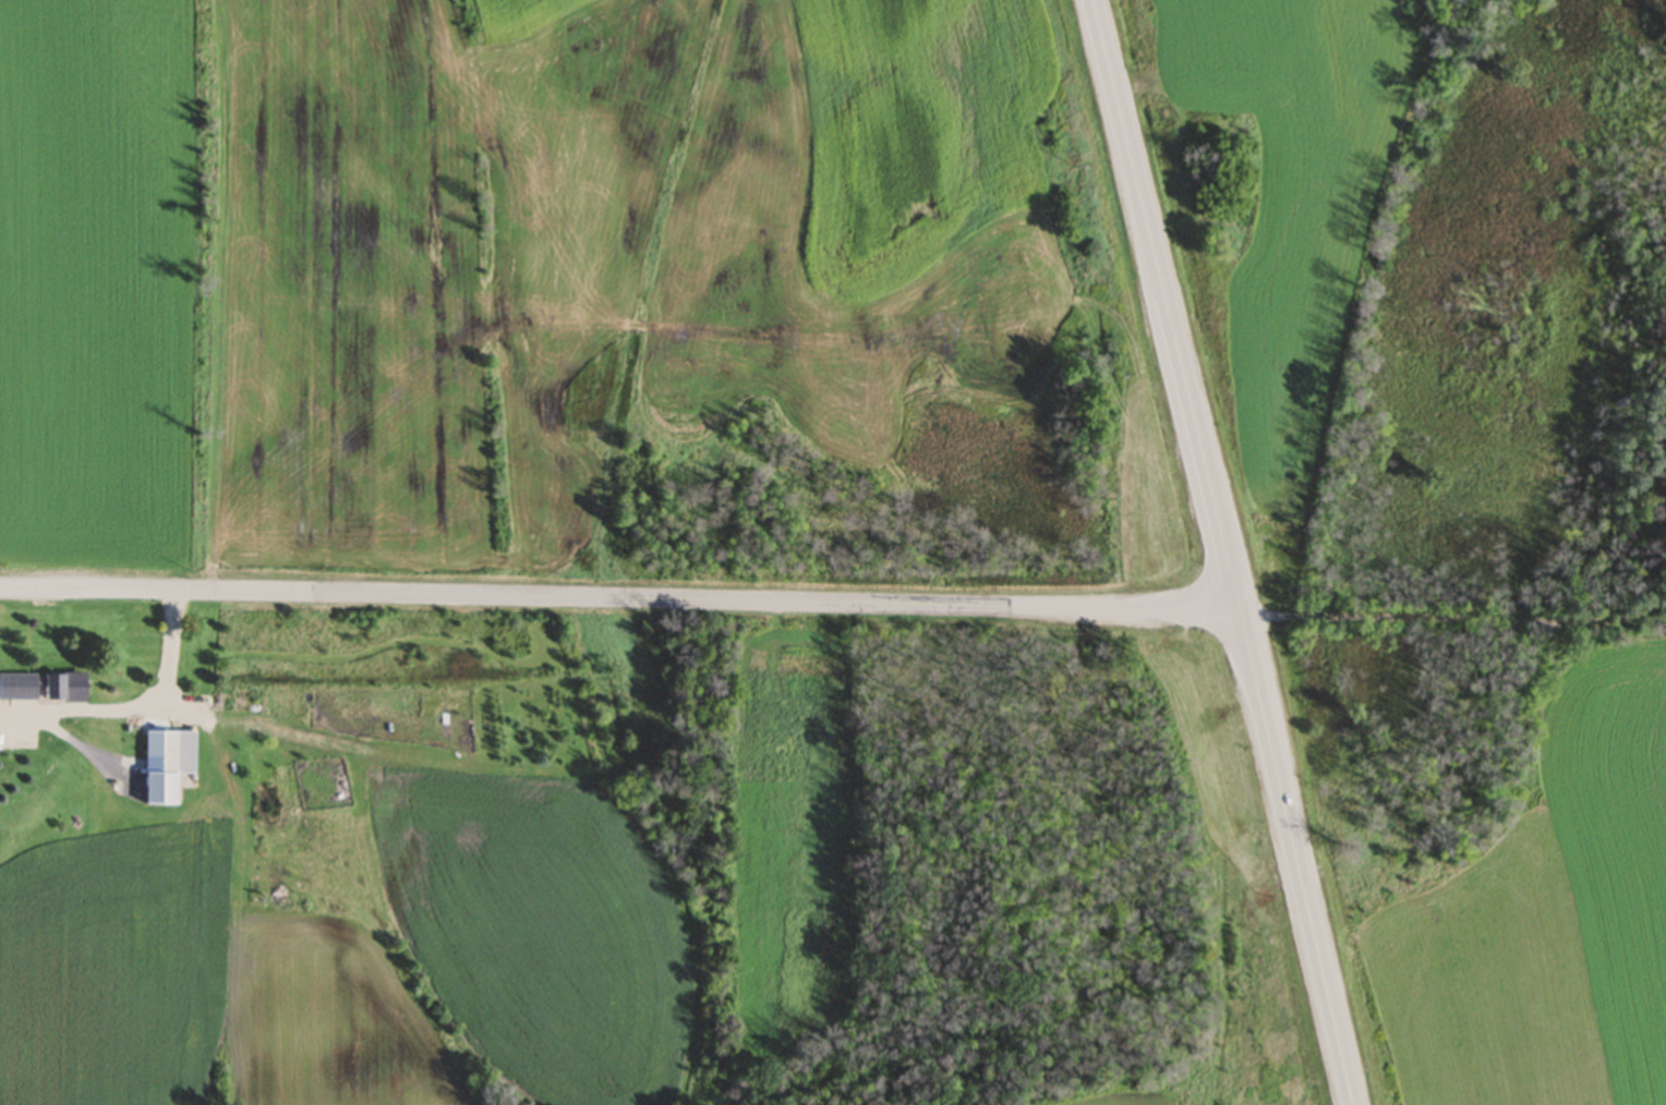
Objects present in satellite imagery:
road: (1166, 300)
road: (1451, 591)
road: (618, 599)
building: (56, 689)
road: (132, 708)
building: (20, 741)
building: (158, 755)
road: (1295, 852)
road: (1494, 938)

